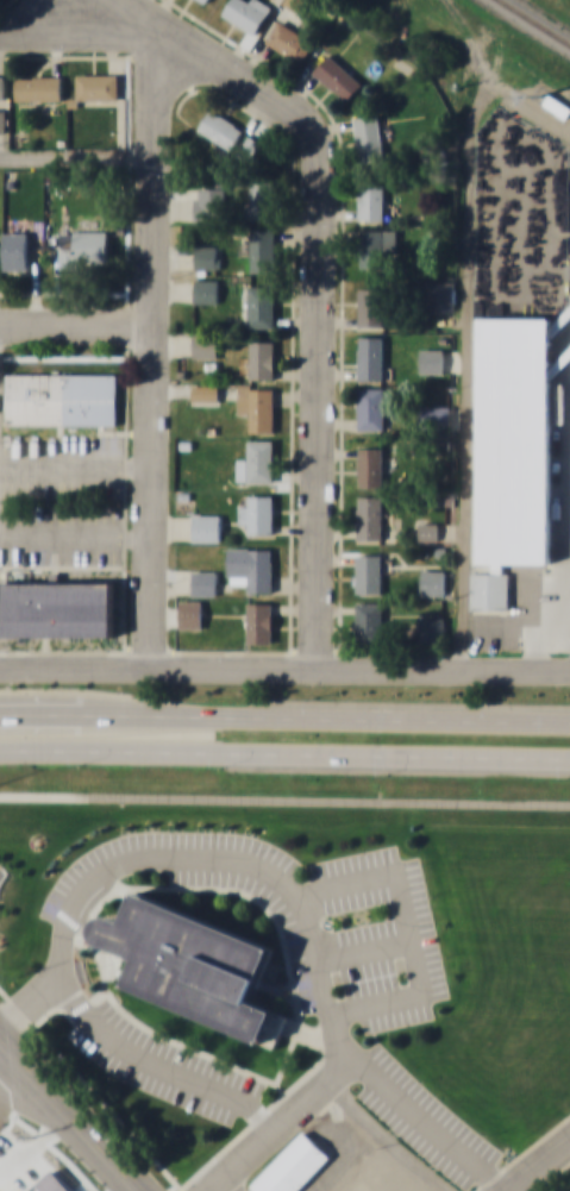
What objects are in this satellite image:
building: (205, 0)
building: (292, 4)
building: (246, 12)
railway: (535, 21)
road: (76, 29)
building: (289, 39)
road: (503, 57)
building: (337, 75)
building: (1, 84)
building: (96, 84)
building: (38, 86)
building: (2, 119)
building: (220, 127)
building: (368, 136)
road: (76, 155)
building: (261, 198)
building: (207, 201)
building: (371, 201)
building: (376, 245)
building: (84, 246)
building: (258, 247)
building: (15, 249)
building: (206, 255)
road: (315, 286)
building: (205, 289)
building: (440, 293)
building: (370, 305)
building: (261, 306)
road: (75, 324)
road: (149, 339)
building: (205, 345)
building: (370, 356)
building: (261, 358)
building: (433, 359)
building: (206, 391)
building: (61, 397)
building: (256, 405)
building: (370, 407)
building: (433, 412)
building: (512, 450)
building: (256, 460)
building: (370, 462)
building: (258, 513)
building: (369, 516)
building: (207, 526)
building: (427, 529)
building: (251, 566)
building: (368, 572)
building: (203, 581)
building: (432, 581)
building: (57, 608)
building: (190, 613)
building: (259, 621)
building: (369, 622)
building: (431, 628)
road: (284, 666)
road: (284, 720)
road: (284, 751)
road: (284, 801)
building: (193, 964)
road: (307, 1105)
road: (44, 1115)
road: (68, 1115)
building: (292, 1165)
road: (540, 1167)
building: (49, 1181)
road: (218, 1190)

